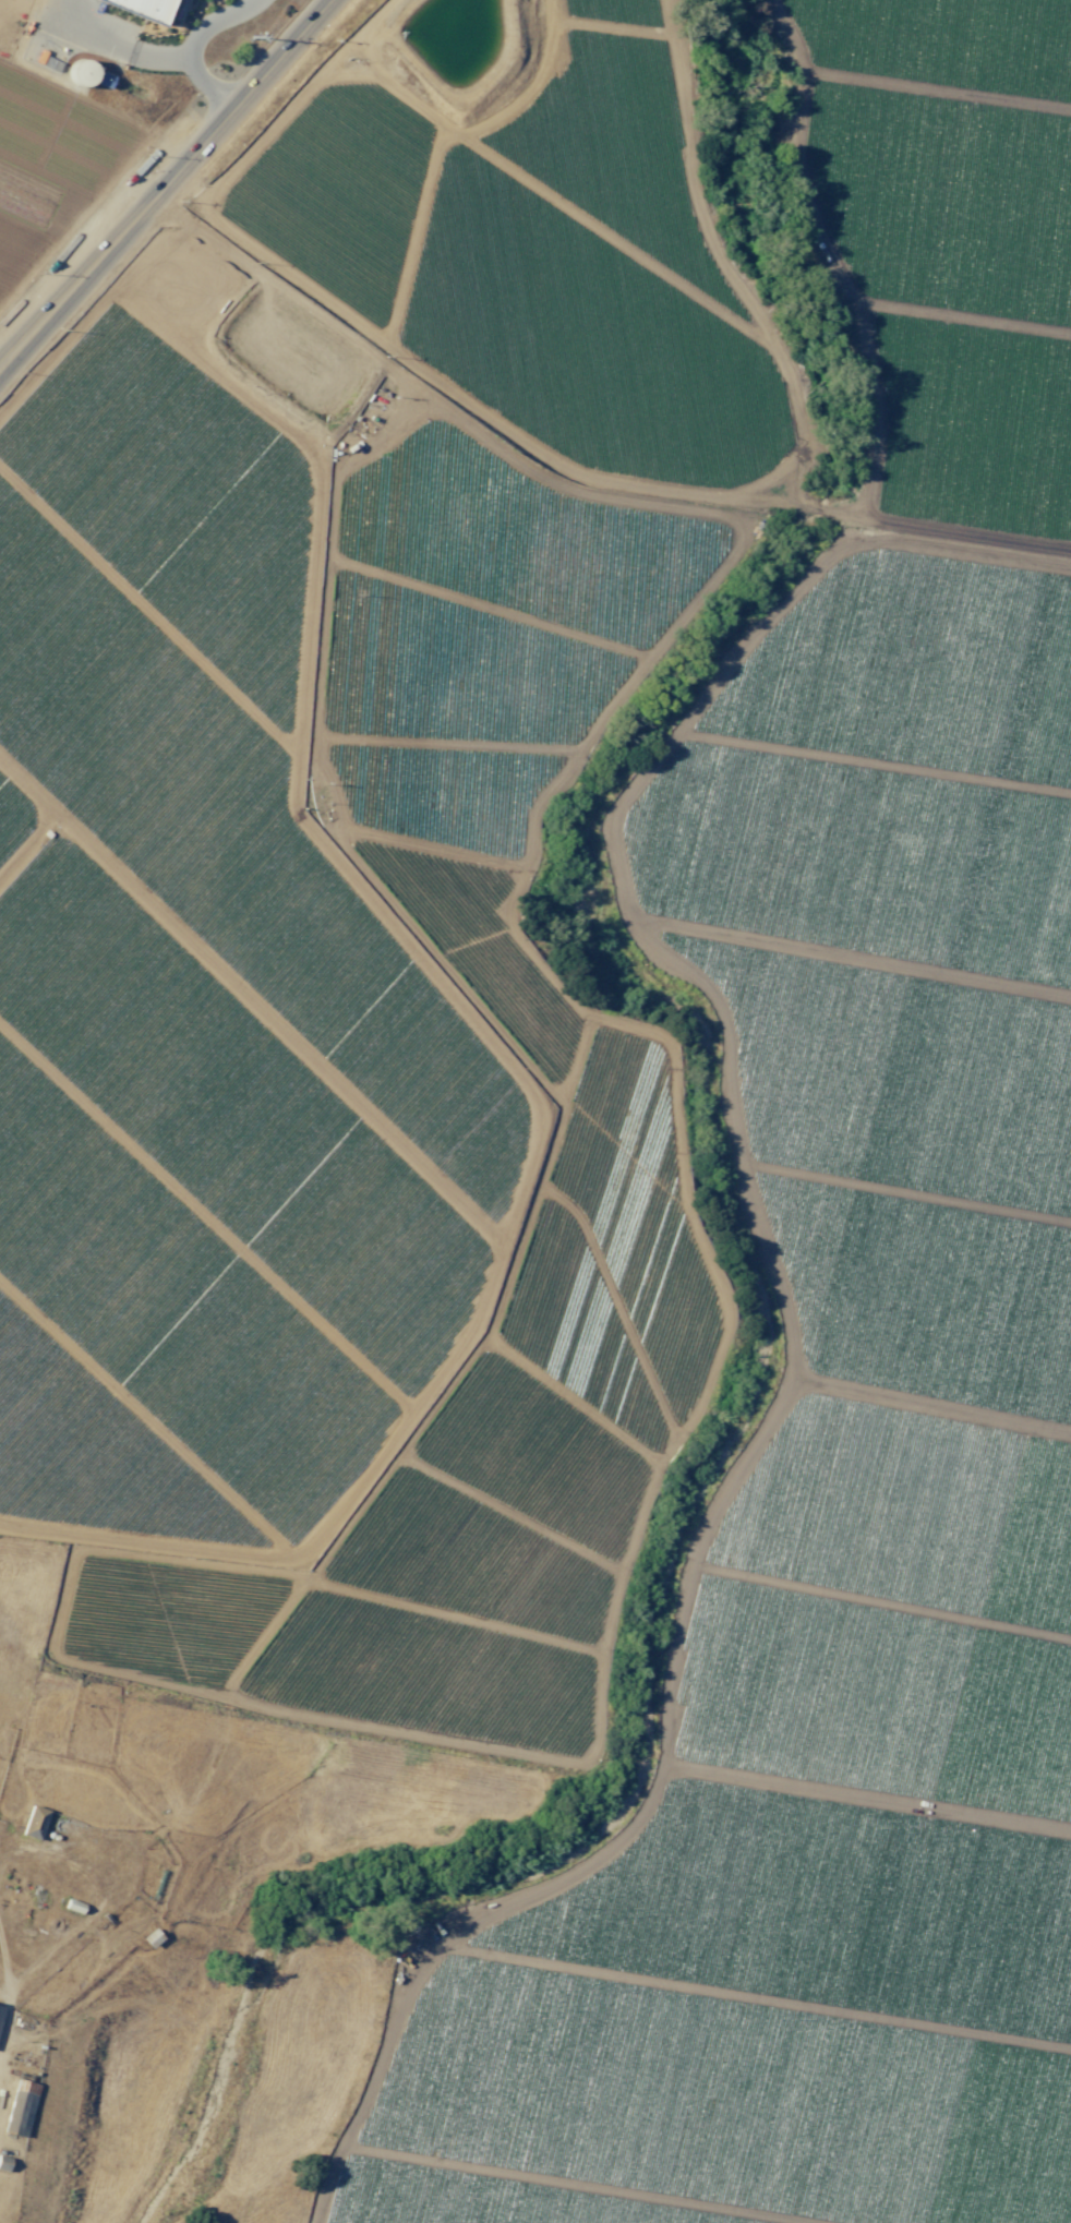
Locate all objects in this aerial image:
building: (141, 8)
road: (194, 43)
crop: (79, 115)
road: (163, 180)
crop: (534, 230)
crop: (200, 985)
crop: (856, 1297)
building: (34, 1822)
building: (0, 2009)
building: (20, 2107)

